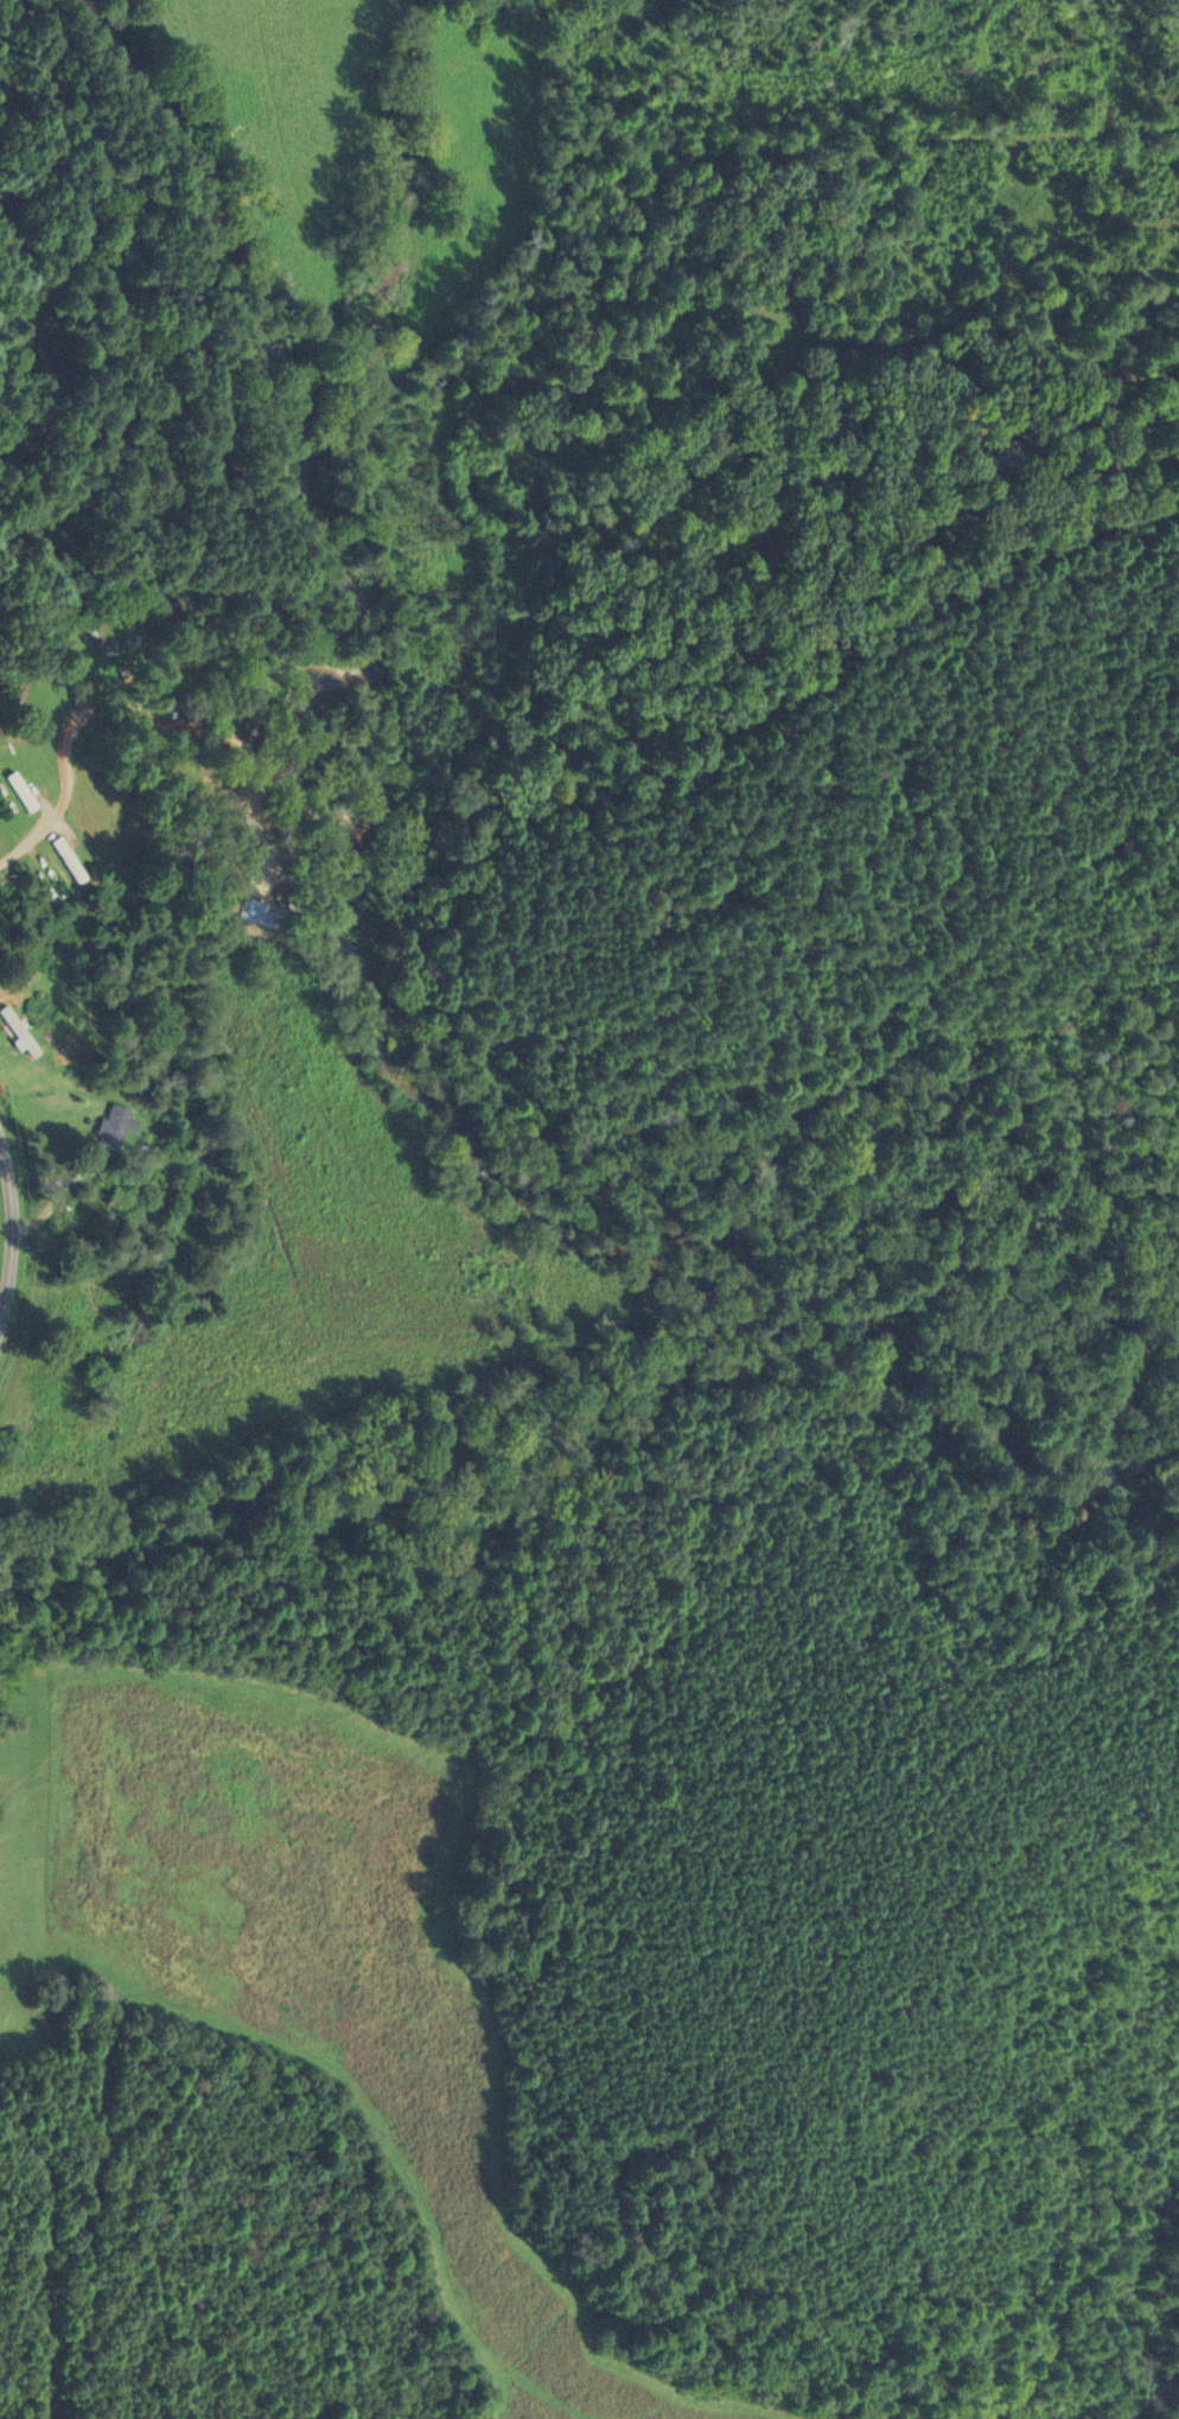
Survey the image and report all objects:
building: (998, 453)
road: (1123, 466)
building: (88, 668)
building: (11, 792)
building: (288, 815)
building: (57, 859)
building: (261, 915)
building: (107, 1128)
road: (51, 1198)
building: (110, 1199)
road: (8, 1235)

